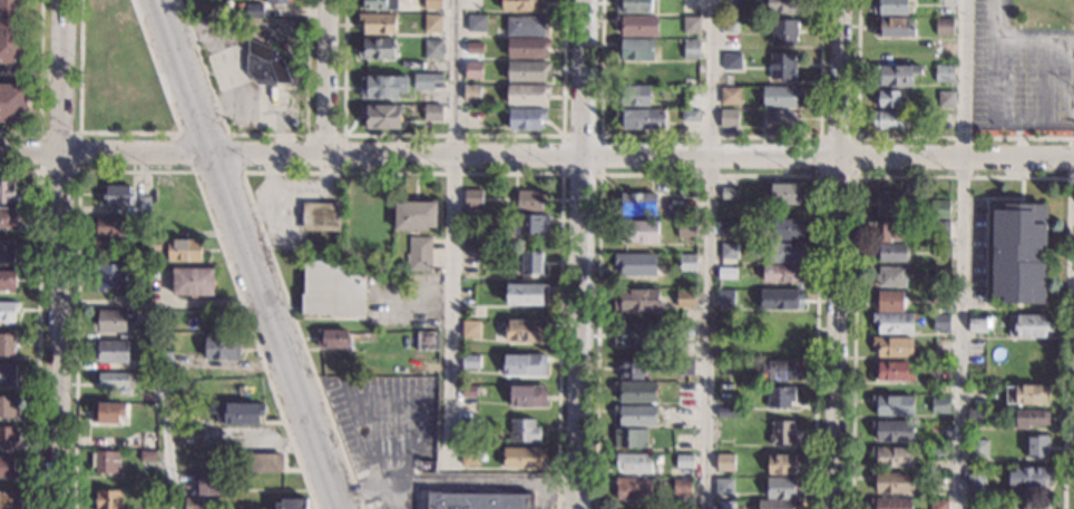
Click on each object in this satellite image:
building: (276, 1)
building: (379, 4)
building: (432, 4)
building: (520, 4)
building: (733, 4)
building: (634, 6)
building: (782, 6)
building: (890, 7)
building: (254, 10)
road: (996, 19)
building: (476, 22)
building: (378, 23)
building: (432, 23)
building: (637, 25)
building: (691, 25)
building: (730, 25)
building: (525, 26)
building: (892, 27)
building: (944, 27)
building: (13, 31)
building: (784, 31)
road: (1034, 37)
building: (944, 47)
building: (377, 48)
building: (475, 48)
building: (527, 48)
building: (433, 49)
building: (635, 49)
building: (691, 49)
building: (891, 49)
building: (732, 61)
building: (265, 63)
building: (782, 66)
building: (690, 68)
building: (472, 69)
building: (527, 71)
building: (650, 71)
road: (31, 72)
building: (944, 72)
building: (896, 75)
road: (326, 76)
road: (841, 77)
road: (996, 78)
building: (426, 80)
road: (1048, 80)
road: (39, 86)
building: (382, 87)
building: (473, 92)
building: (527, 95)
building: (730, 95)
building: (634, 96)
building: (780, 96)
building: (889, 98)
building: (945, 99)
building: (13, 102)
building: (432, 112)
building: (380, 116)
building: (690, 116)
building: (728, 117)
building: (472, 118)
building: (526, 118)
building: (642, 119)
building: (888, 120)
building: (780, 121)
road: (1034, 125)
road: (134, 133)
road: (226, 134)
road: (262, 135)
road: (324, 135)
road: (452, 135)
road: (711, 136)
road: (896, 137)
road: (420, 153)
road: (957, 156)
road: (1068, 158)
road: (79, 170)
road: (146, 172)
road: (388, 173)
road: (560, 174)
road: (709, 174)
road: (856, 175)
road: (960, 176)
building: (8, 192)
building: (731, 193)
building: (785, 194)
building: (116, 195)
building: (473, 197)
building: (529, 202)
building: (636, 203)
building: (889, 203)
building: (145, 204)
building: (939, 209)
building: (373, 212)
building: (689, 213)
building: (416, 215)
building: (322, 216)
building: (10, 217)
building: (531, 225)
building: (110, 226)
building: (728, 228)
building: (938, 228)
building: (686, 229)
building: (637, 231)
building: (789, 231)
building: (886, 231)
road: (453, 235)
building: (470, 238)
building: (175, 248)
building: (7, 249)
building: (729, 251)
building: (943, 251)
building: (892, 252)
building: (419, 253)
building: (785, 253)
building: (1018, 253)
road: (61, 254)
road: (247, 254)
road: (580, 254)
road: (707, 254)
road: (961, 254)
building: (357, 255)
building: (531, 263)
building: (687, 263)
building: (635, 264)
building: (726, 273)
building: (782, 273)
building: (943, 274)
building: (110, 276)
building: (890, 276)
building: (8, 280)
building: (193, 282)
building: (331, 290)
building: (527, 294)
building: (940, 297)
building: (685, 298)
building: (725, 298)
building: (780, 298)
building: (135, 301)
building: (636, 301)
building: (890, 301)
building: (8, 310)
building: (726, 317)
road: (37, 321)
building: (110, 321)
building: (783, 322)
building: (940, 322)
building: (894, 323)
building: (977, 323)
building: (1028, 325)
building: (471, 329)
building: (685, 329)
building: (526, 331)
road: (839, 332)
building: (140, 333)
building: (632, 334)
building: (333, 339)
building: (427, 341)
building: (8, 343)
building: (725, 345)
building: (894, 345)
building: (781, 346)
building: (222, 348)
building: (111, 351)
building: (164, 360)
building: (470, 362)
building: (143, 364)
building: (525, 365)
building: (685, 366)
building: (724, 368)
building: (632, 369)
building: (781, 370)
building: (894, 371)
building: (938, 372)
building: (7, 374)
building: (116, 381)
building: (685, 389)
building: (469, 391)
building: (637, 391)
building: (976, 394)
building: (1025, 394)
building: (527, 395)
building: (780, 397)
building: (894, 404)
building: (940, 404)
building: (8, 405)
building: (469, 410)
building: (686, 411)
building: (728, 412)
building: (107, 413)
building: (237, 413)
building: (635, 415)
building: (976, 415)
building: (1031, 418)
building: (468, 423)
building: (892, 430)
building: (938, 430)
building: (524, 431)
building: (782, 432)
building: (10, 435)
building: (629, 438)
building: (146, 440)
road: (168, 446)
building: (1037, 446)
building: (978, 448)
building: (937, 452)
road: (373, 456)
building: (470, 456)
building: (892, 456)
building: (524, 458)
building: (147, 459)
building: (684, 461)
building: (106, 462)
building: (260, 462)
building: (725, 462)
building: (634, 463)
building: (780, 464)
building: (8, 468)
building: (1031, 477)
road: (455, 481)
building: (892, 482)
building: (938, 482)
building: (213, 483)
building: (723, 484)
building: (681, 486)
building: (976, 486)
building: (633, 488)
building: (782, 488)
road: (544, 496)
building: (108, 499)
building: (10, 500)
building: (479, 500)
building: (292, 502)
building: (890, 502)
building: (194, 503)
building: (988, 503)
building: (725, 505)
building: (779, 505)
building: (938, 505)
building: (975, 505)
building: (1029, 506)
building: (154, 507)

